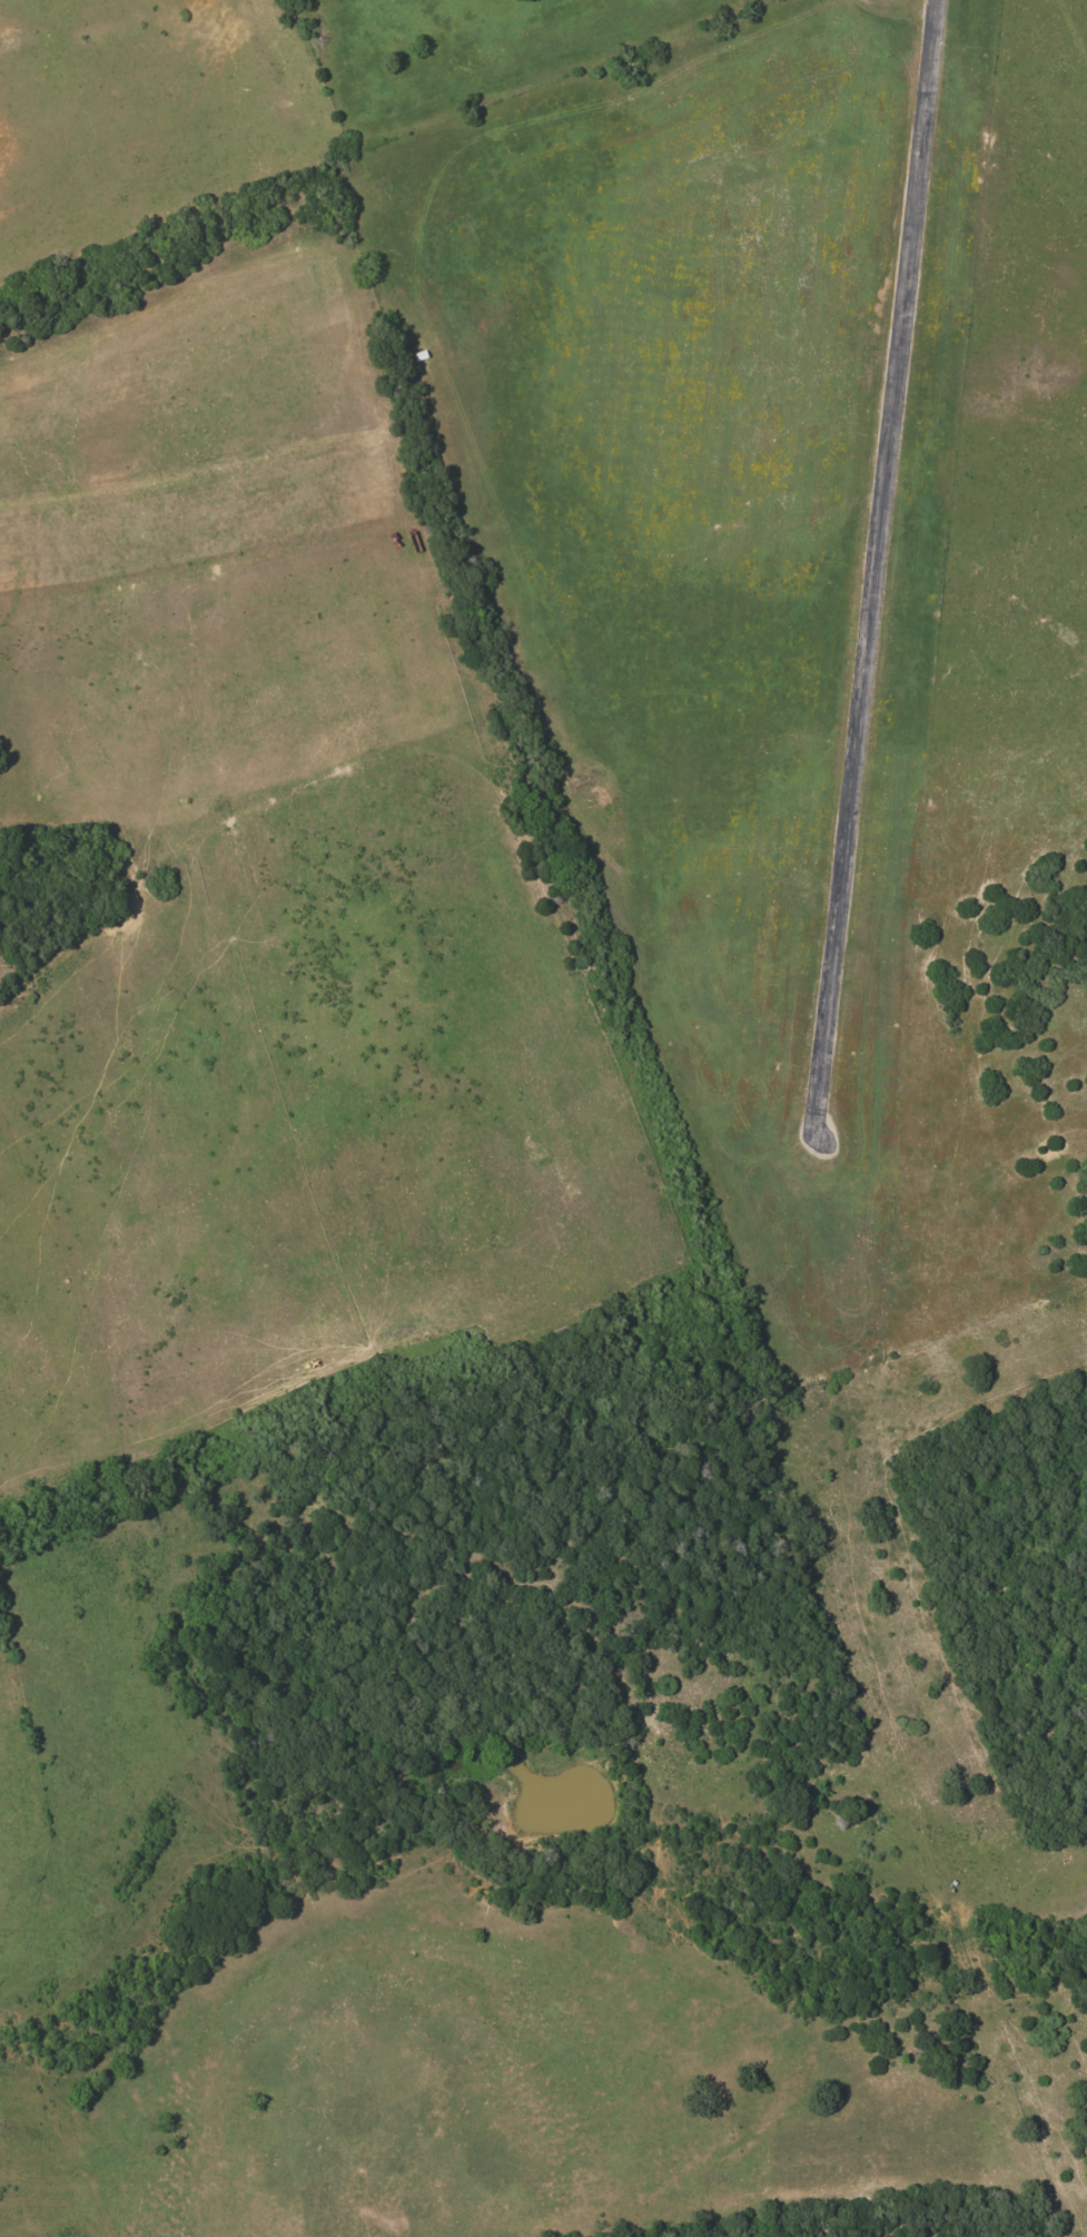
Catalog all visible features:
airport runway: (870, 571)

